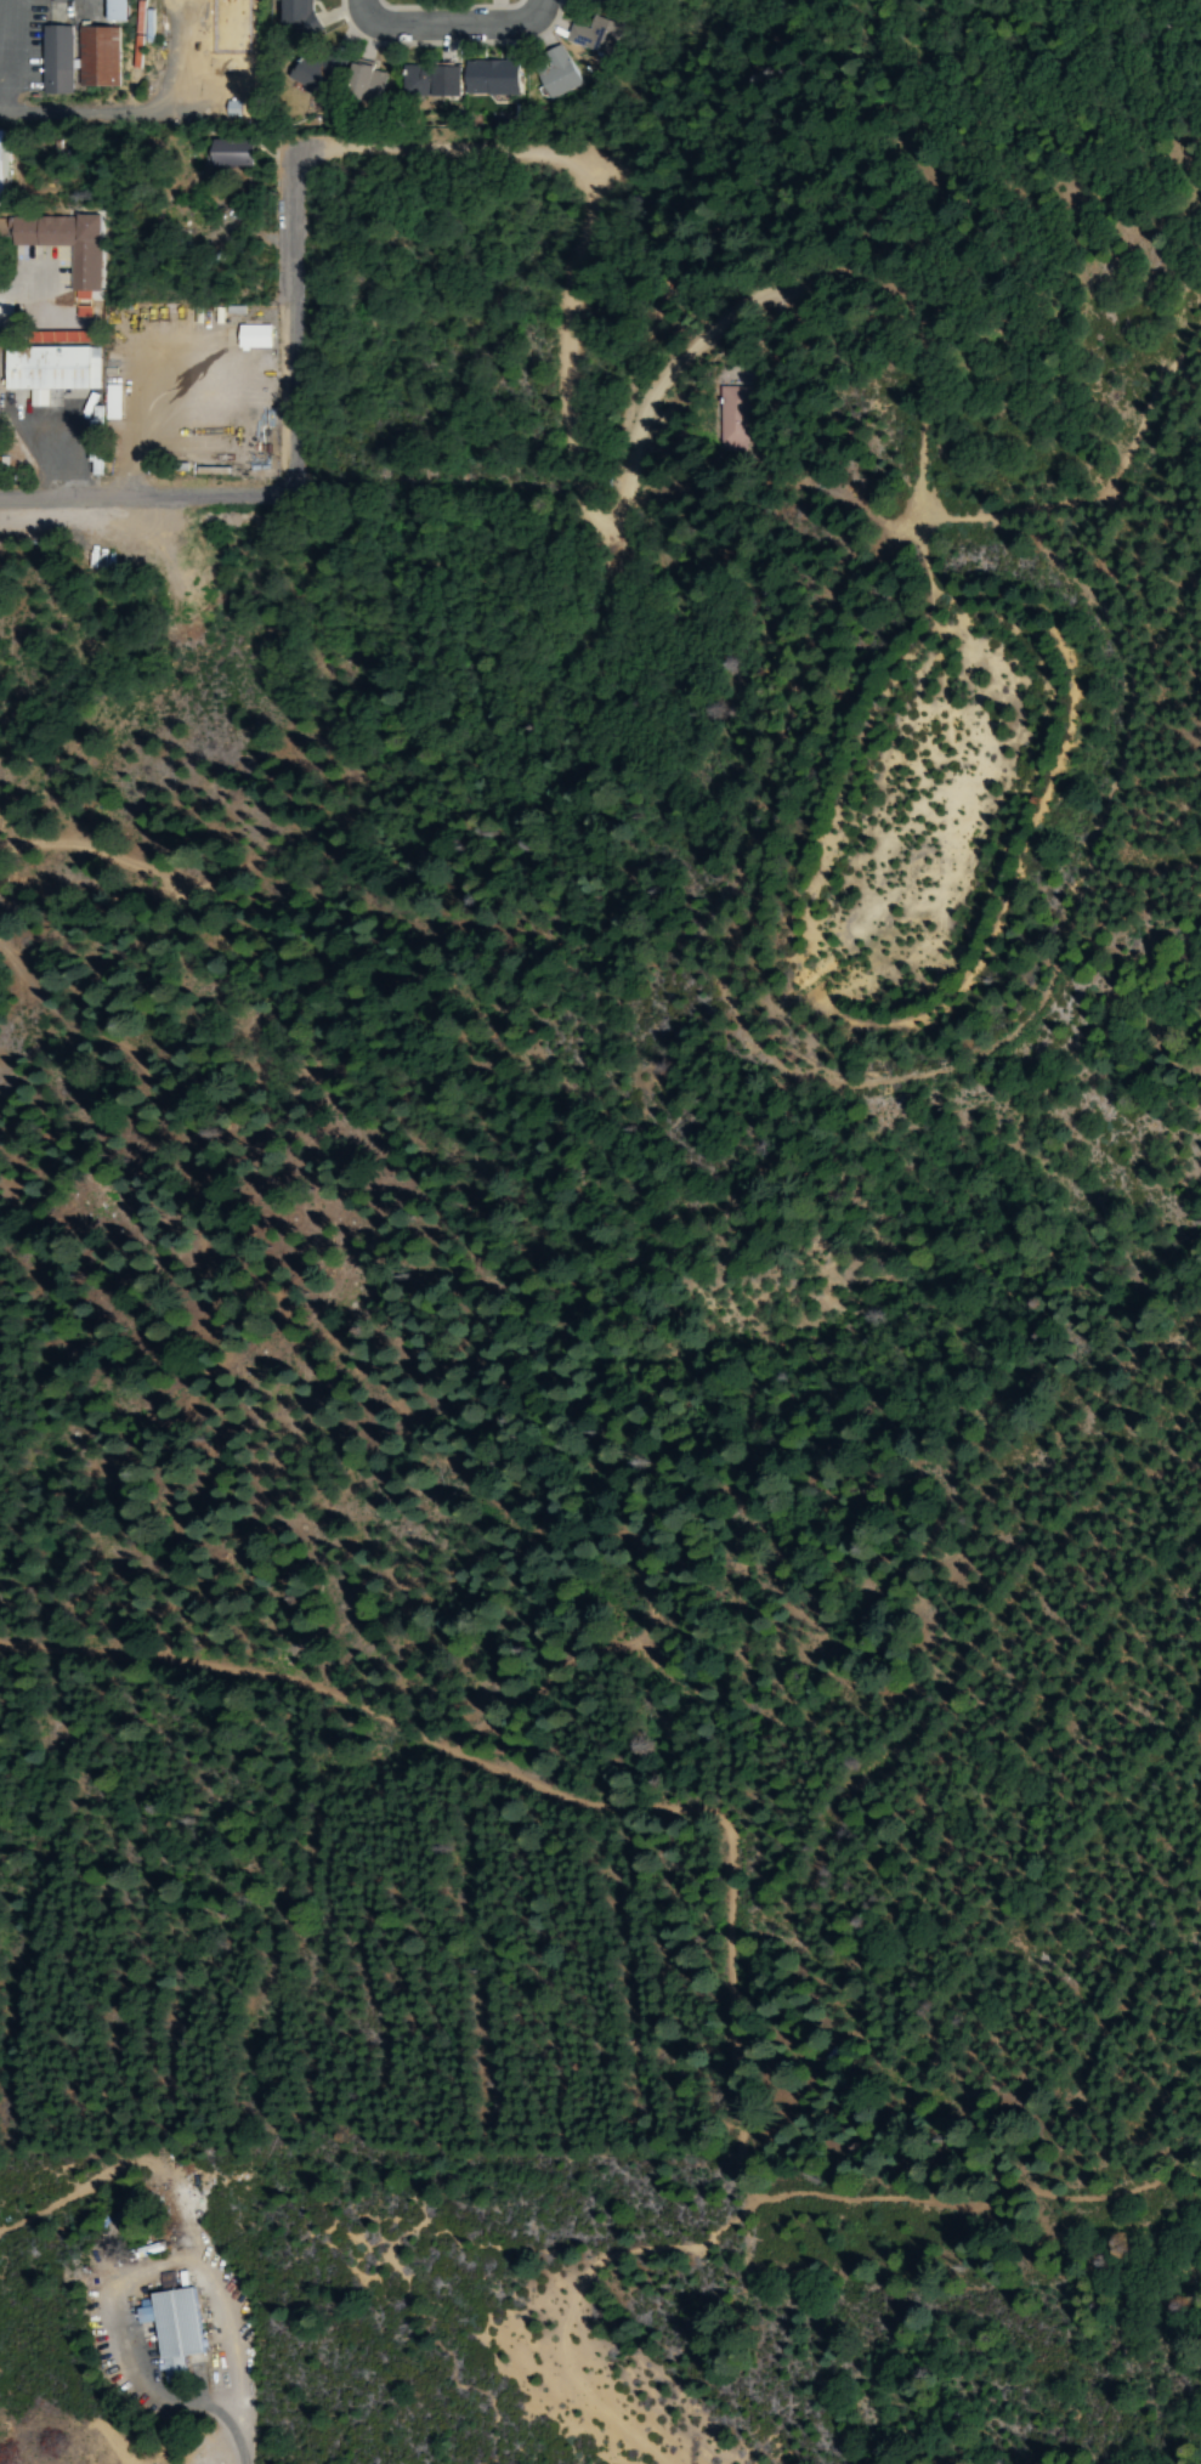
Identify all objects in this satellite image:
building: (602, 0)
building: (114, 11)
building: (305, 17)
road: (458, 28)
building: (587, 34)
building: (74, 58)
building: (318, 74)
building: (489, 78)
building: (556, 78)
building: (369, 81)
building: (435, 83)
road: (141, 115)
road: (318, 153)
building: (240, 154)
building: (4, 169)
building: (68, 244)
building: (256, 338)
road: (437, 358)
road: (692, 366)
building: (51, 372)
road: (1158, 402)
building: (735, 418)
building: (98, 448)
road: (151, 500)
building: (171, 2329)

